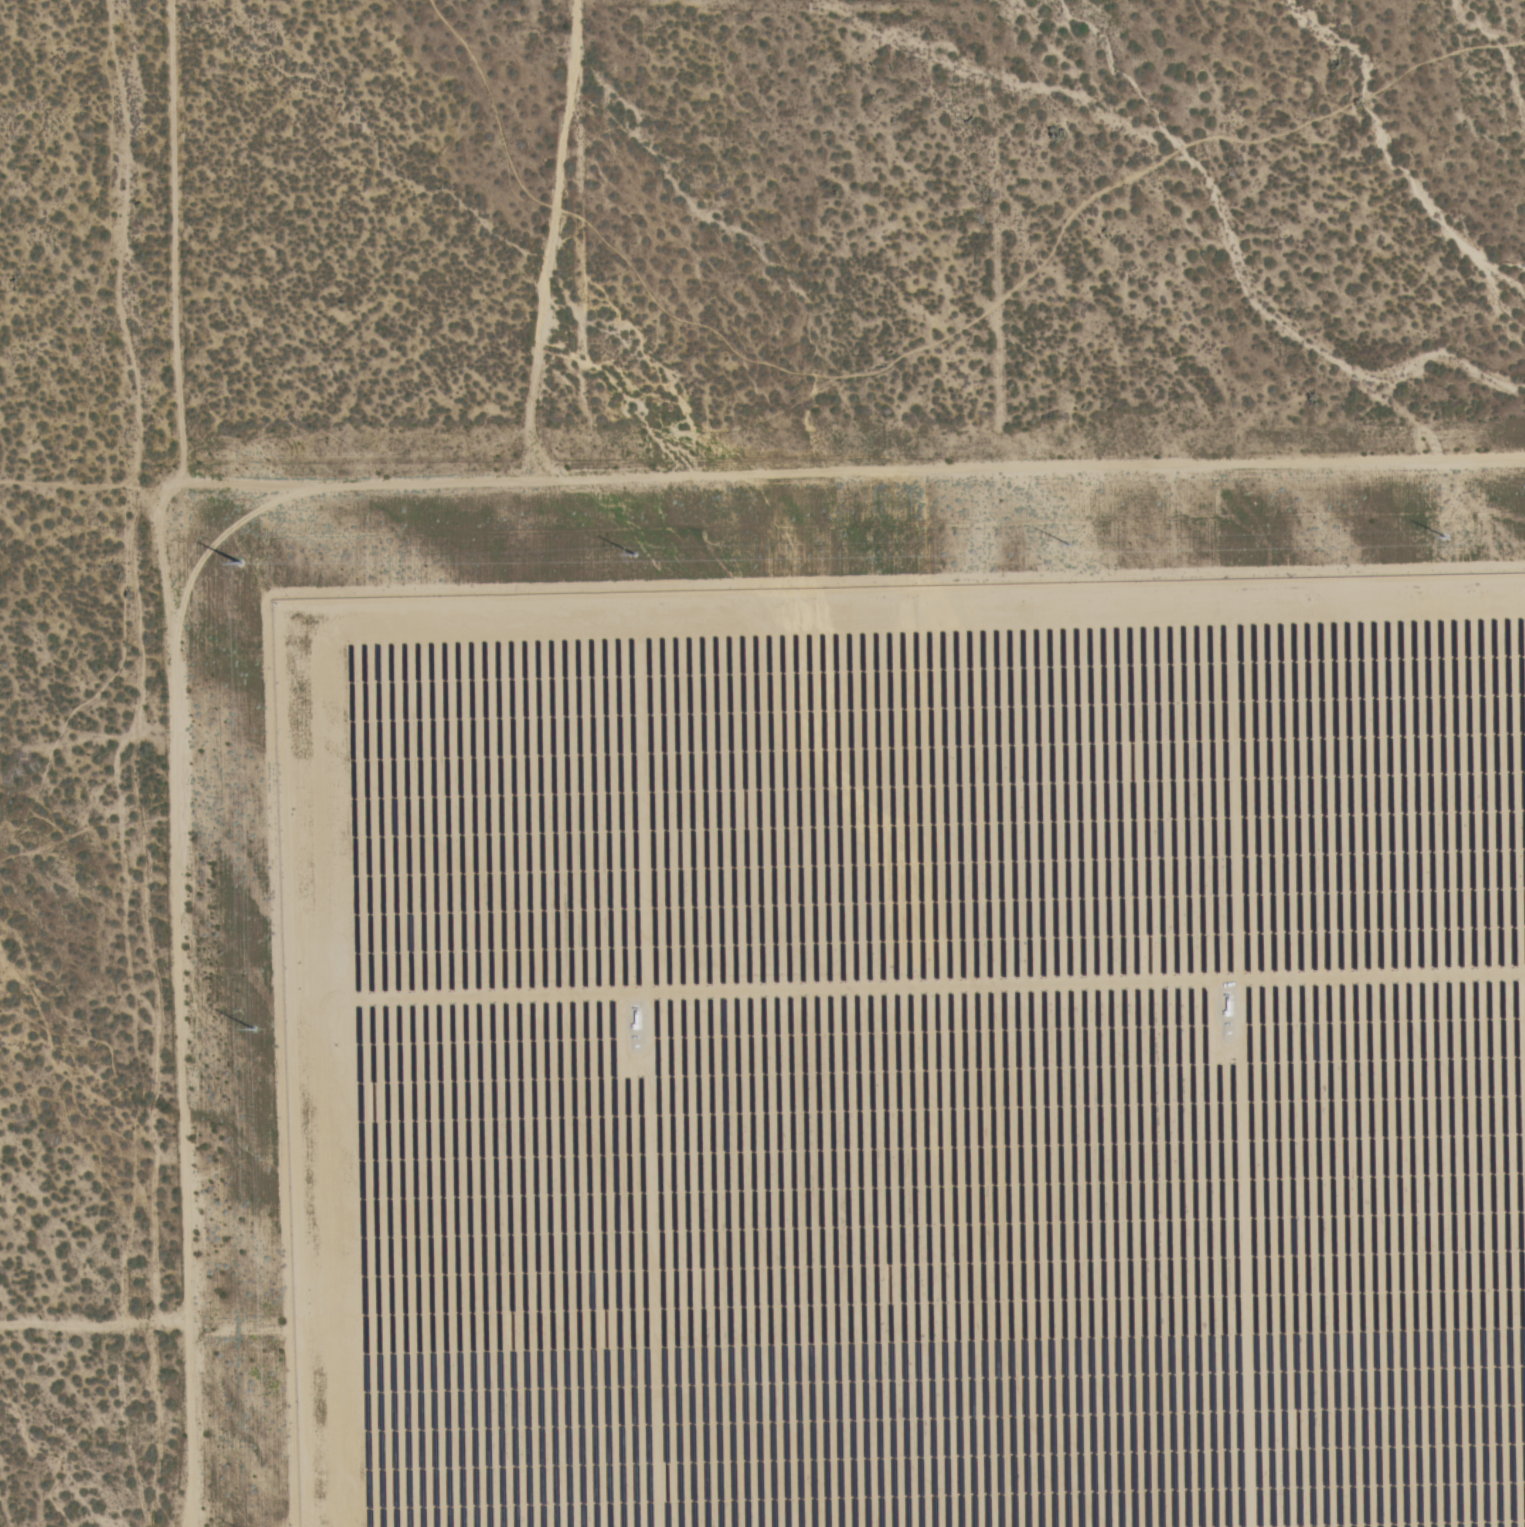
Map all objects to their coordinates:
road: (556, 237)
road: (834, 467)
road: (76, 499)
road: (172, 668)
solar farm: (910, 1055)
road: (182, 1345)

